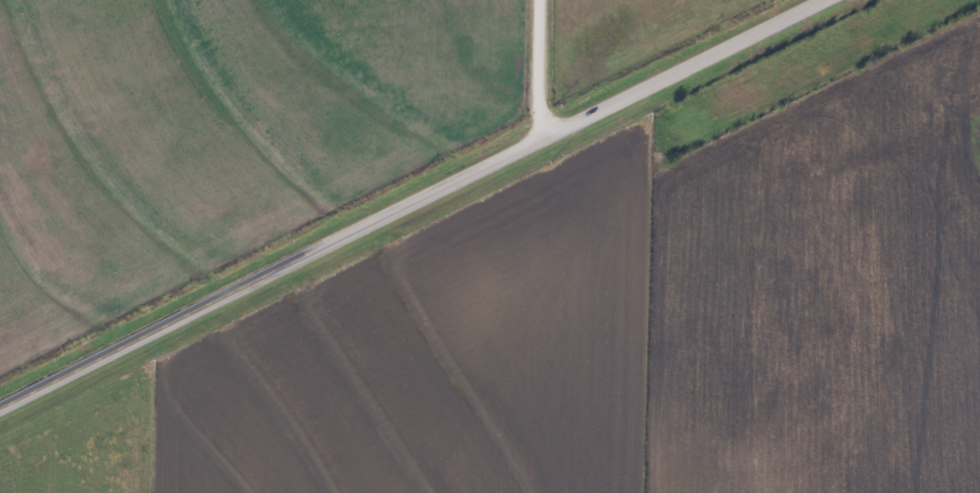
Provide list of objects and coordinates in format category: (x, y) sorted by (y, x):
road: (536, 69)
road: (411, 201)

